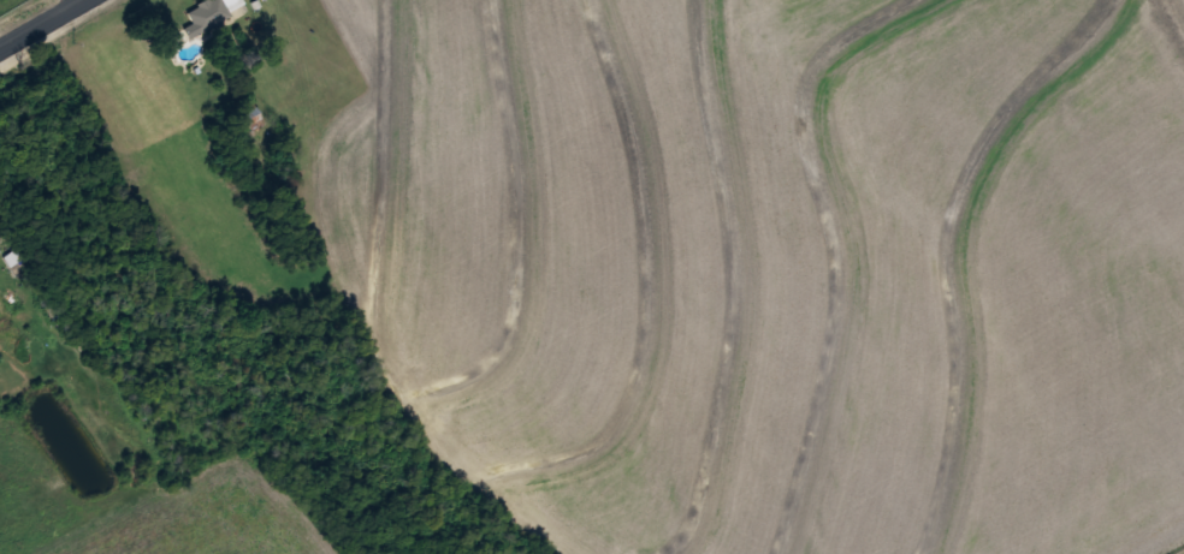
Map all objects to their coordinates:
building: (207, 13)
road: (43, 24)
building: (250, 115)
crop: (789, 268)
crop: (221, 519)

